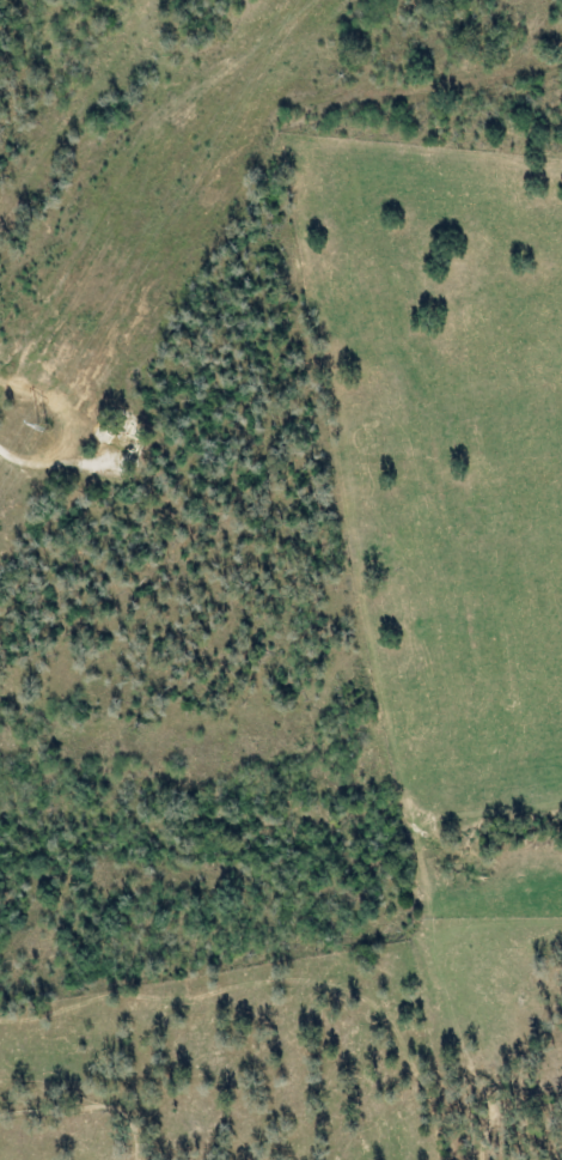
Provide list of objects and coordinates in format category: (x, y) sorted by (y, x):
power tower: (49, 431)

